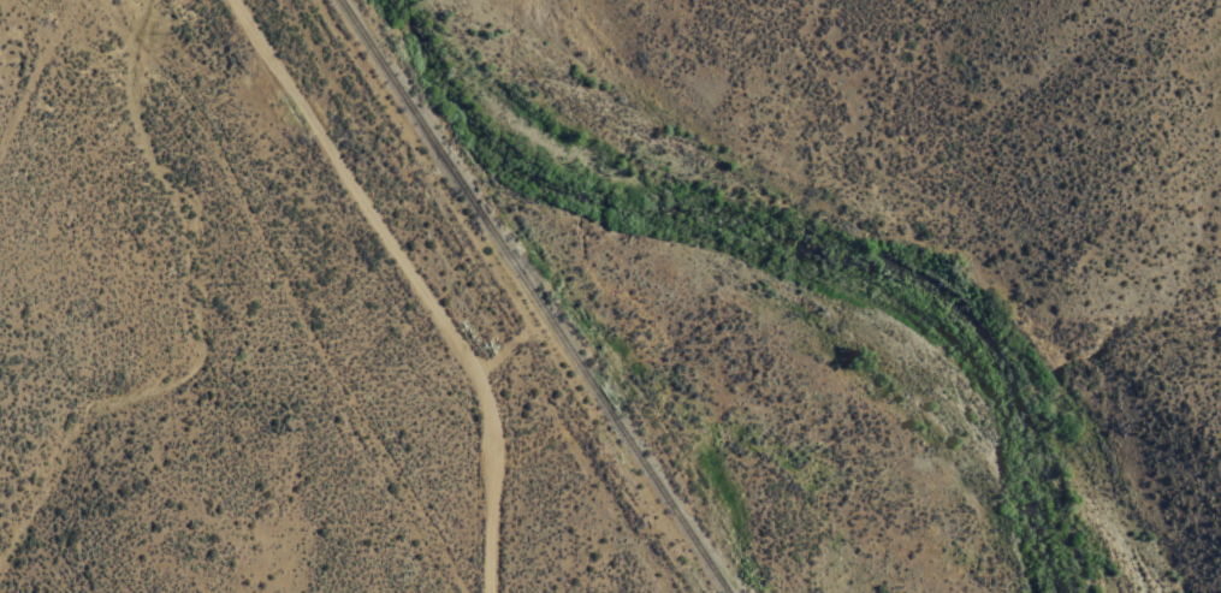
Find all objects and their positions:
crop: (790, 130)
road: (404, 279)
railway: (532, 296)
road: (475, 297)
crop: (458, 322)

